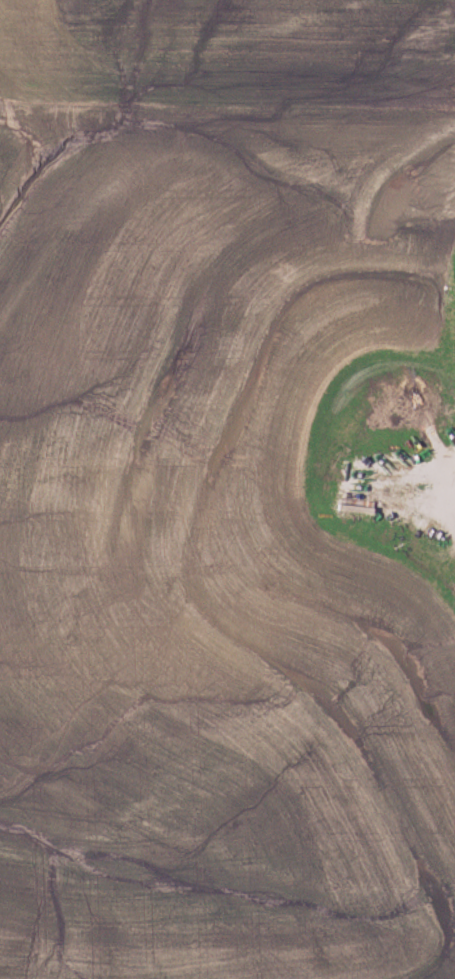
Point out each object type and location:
crop: (228, 50)
crop: (217, 583)

